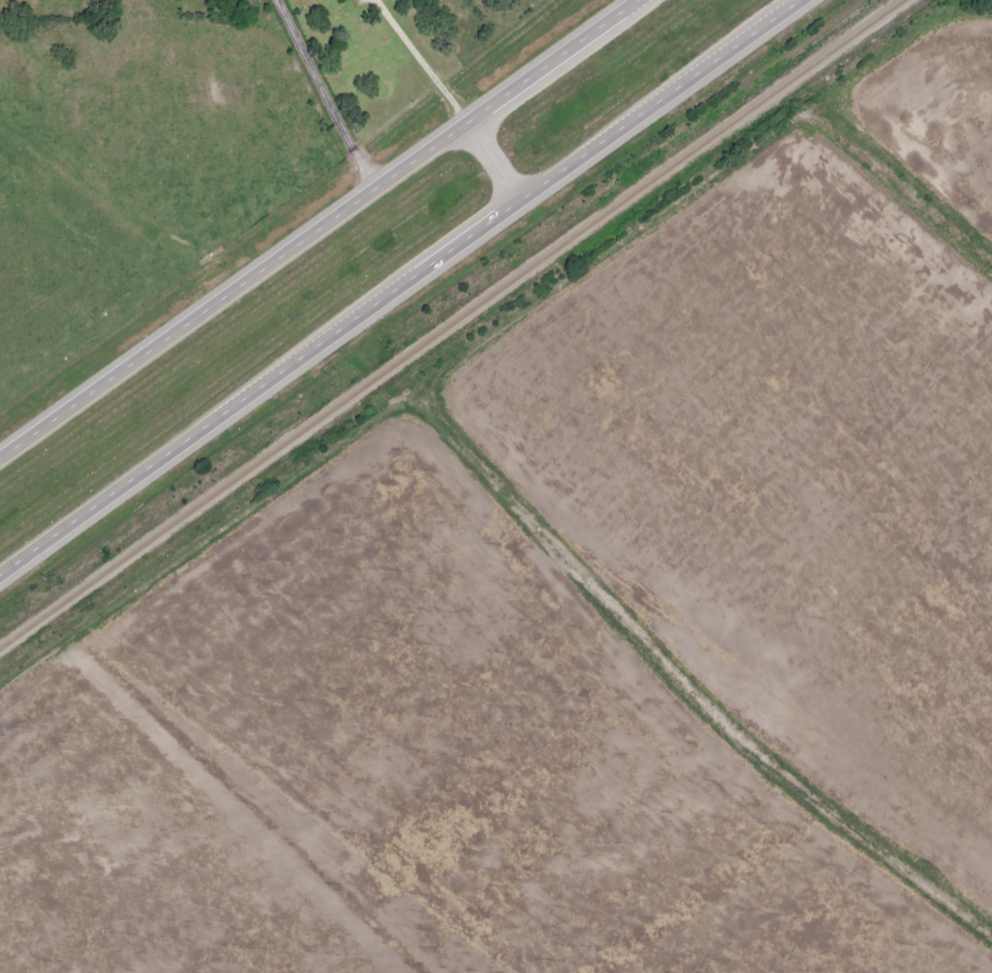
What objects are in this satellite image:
road: (329, 96)
road: (496, 162)
road: (322, 231)
road: (399, 288)
railway: (450, 322)

